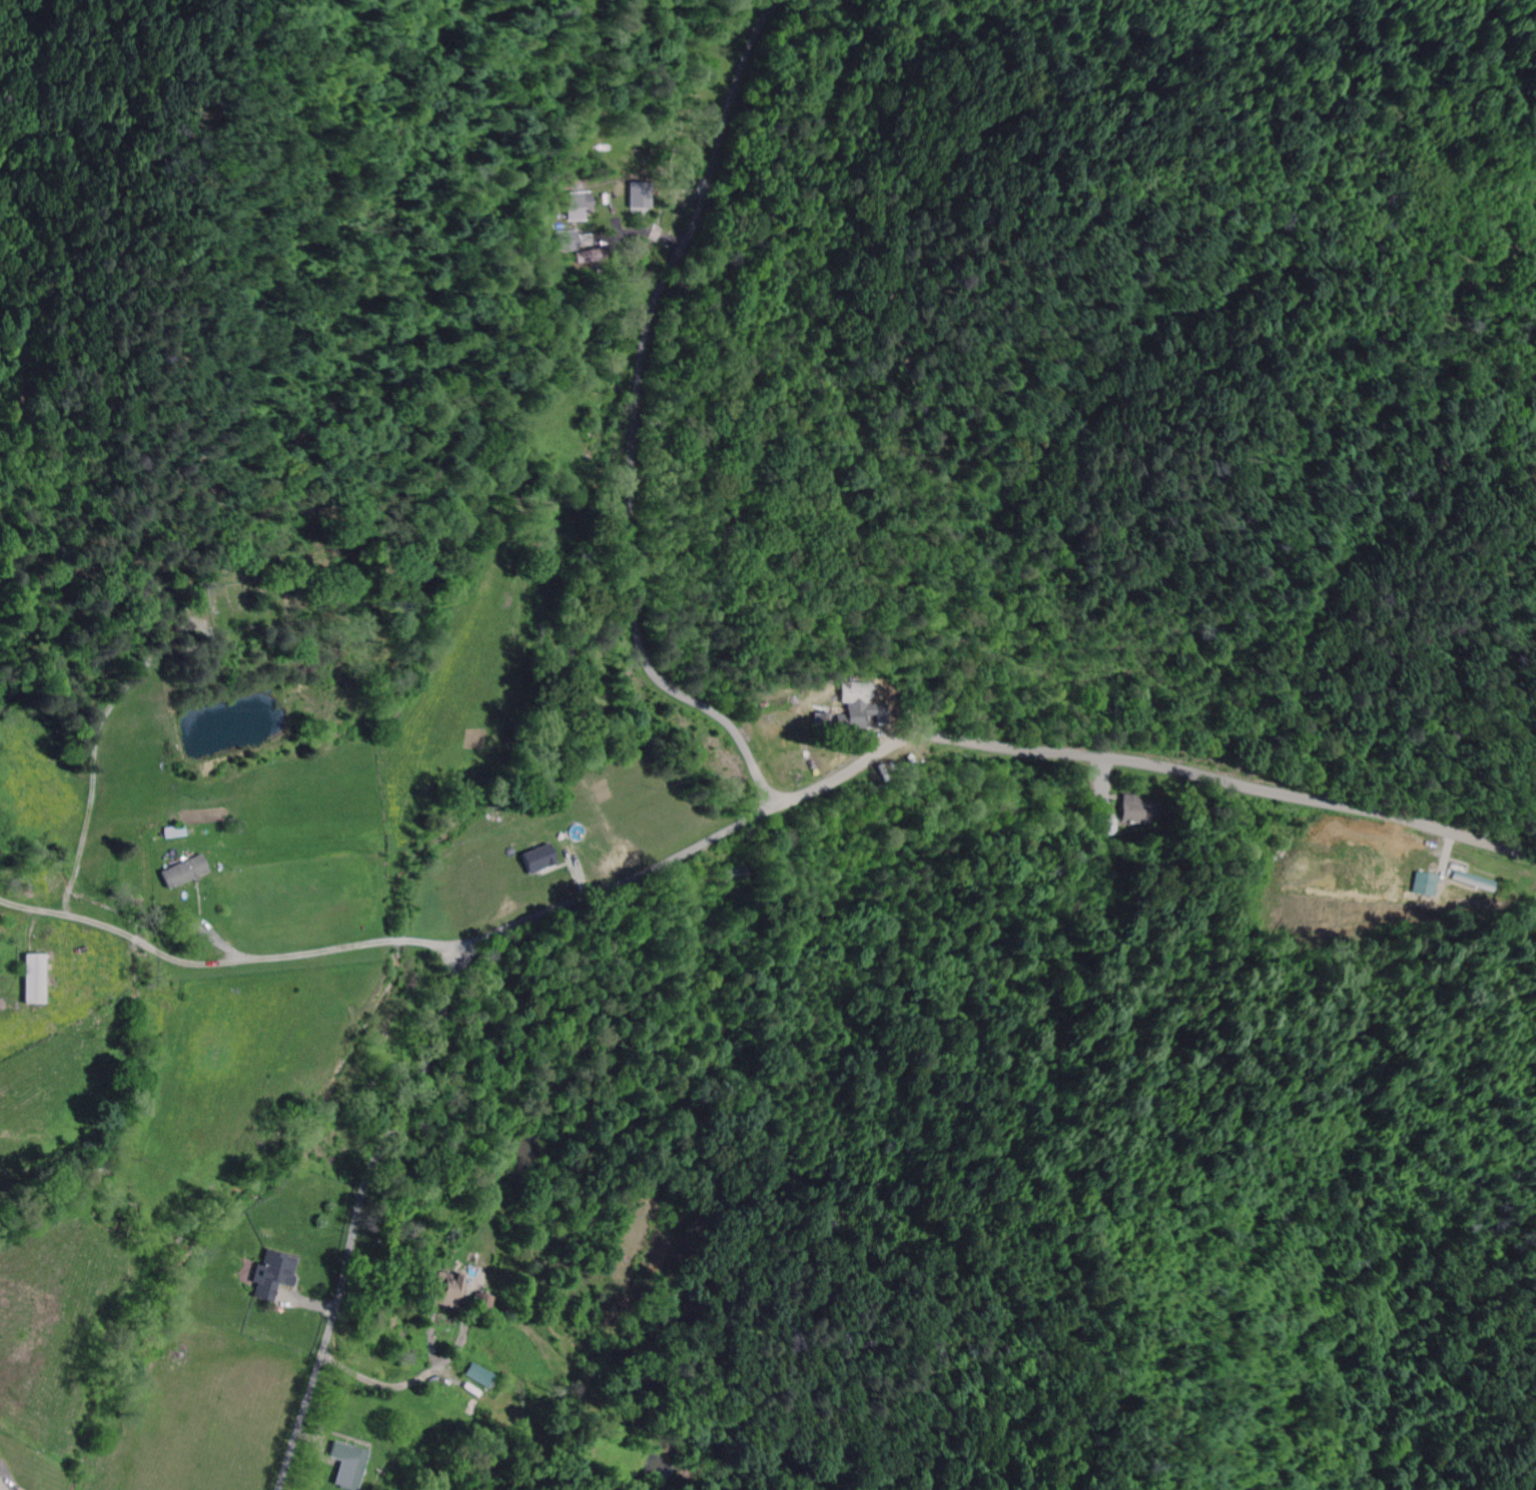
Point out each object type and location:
building: (580, 203)
building: (581, 240)
building: (563, 241)
building: (582, 256)
road: (634, 422)
park: (250, 603)
building: (855, 710)
building: (1133, 808)
building: (169, 832)
road: (723, 840)
building: (533, 859)
building: (179, 872)
building: (1422, 882)
road: (234, 963)
building: (29, 979)
building: (267, 1274)
building: (440, 1290)
building: (478, 1300)
building: (475, 1375)
road: (409, 1383)
building: (343, 1464)

